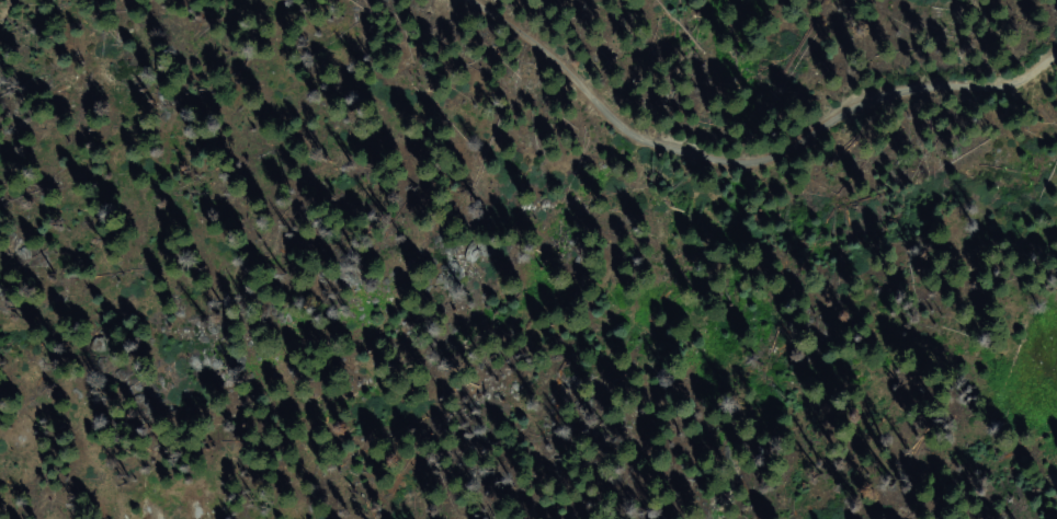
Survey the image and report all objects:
road: (742, 161)

